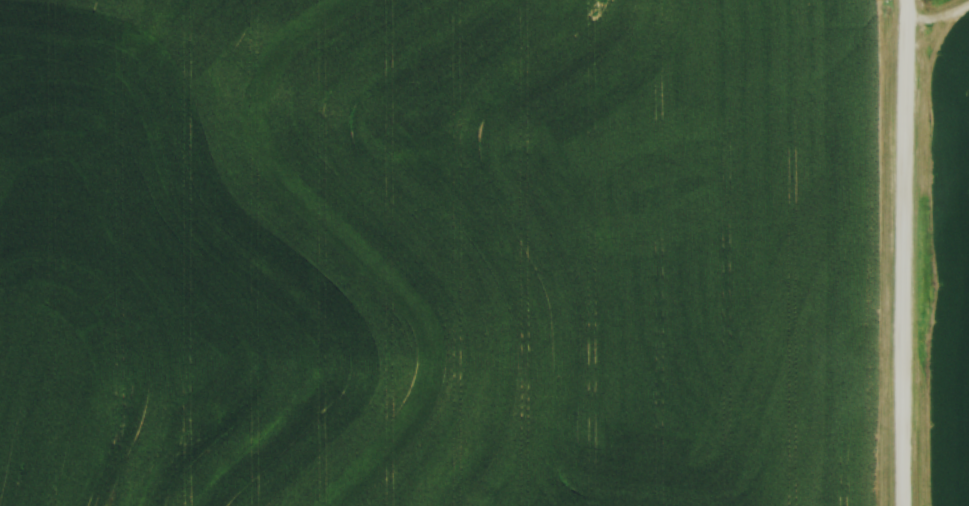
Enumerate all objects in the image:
road: (906, 252)

